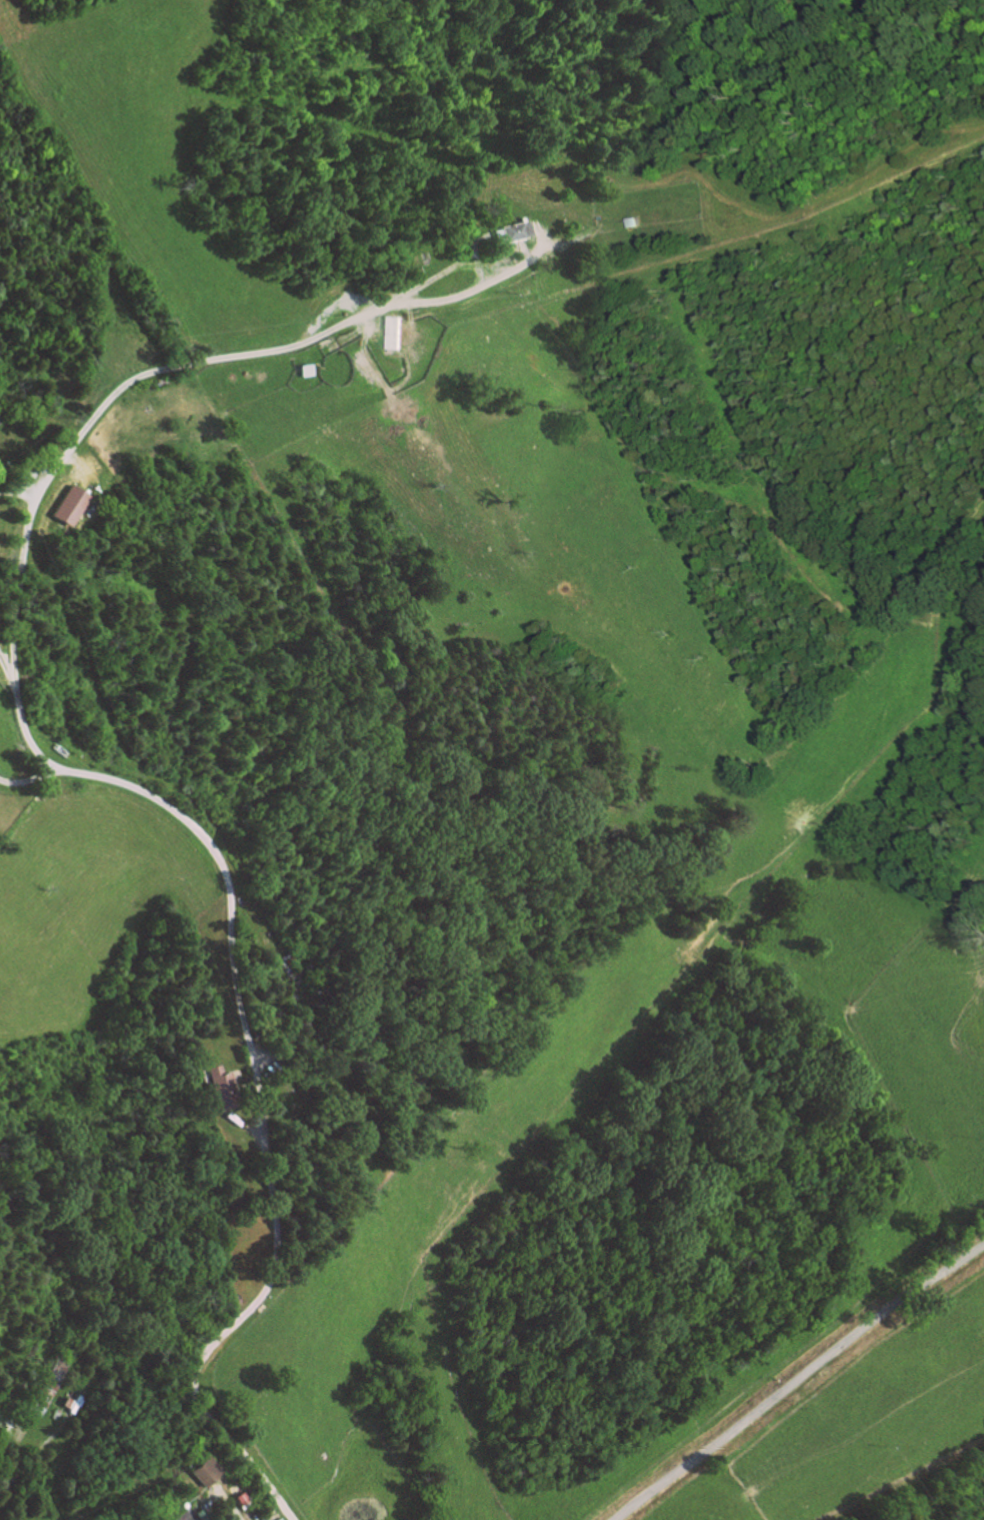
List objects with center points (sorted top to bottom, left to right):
building: (637, 221)
building: (516, 229)
road: (541, 239)
road: (522, 249)
road: (498, 257)
road: (441, 268)
building: (389, 331)
road: (293, 344)
building: (306, 369)
road: (16, 493)
building: (70, 504)
road: (7, 662)
road: (29, 777)
road: (235, 975)
road: (264, 1057)
road: (246, 1083)
building: (224, 1086)
road: (241, 1124)
road: (798, 1382)
building: (54, 1385)
building: (75, 1401)
road: (14, 1469)
building: (206, 1471)
road: (232, 1506)
building: (186, 1515)

